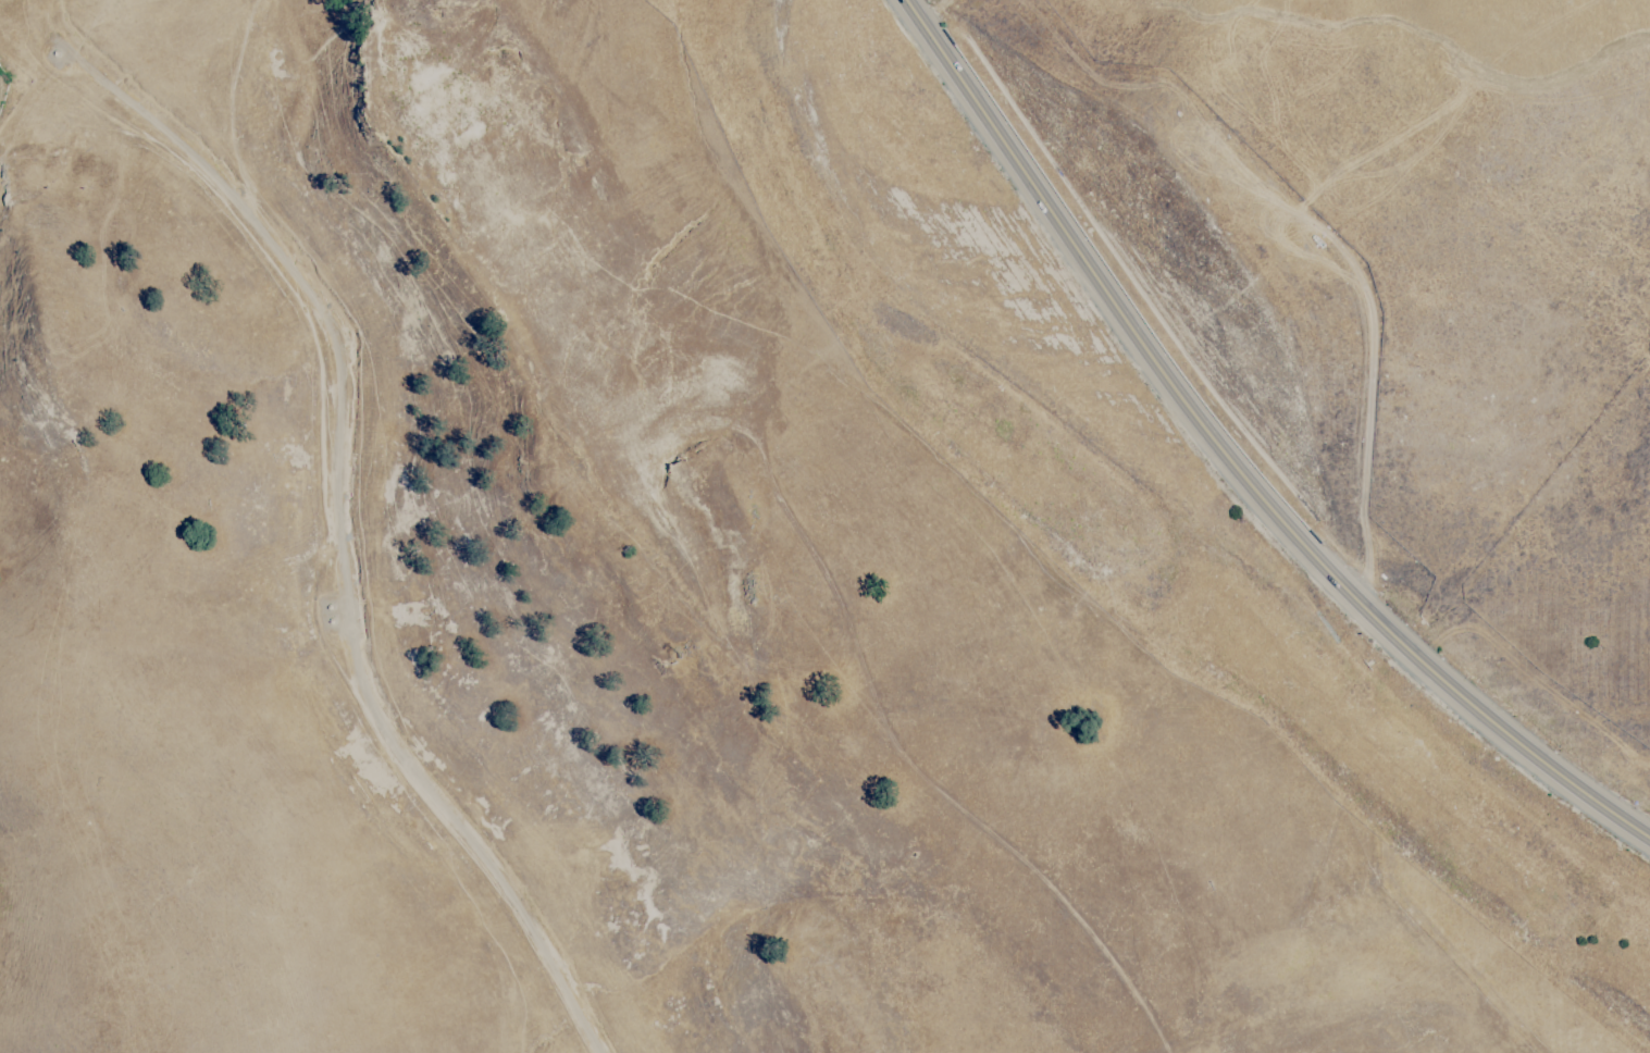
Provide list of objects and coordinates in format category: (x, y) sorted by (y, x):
park: (1474, 276)
road: (1229, 463)
road: (335, 529)
park: (574, 610)

